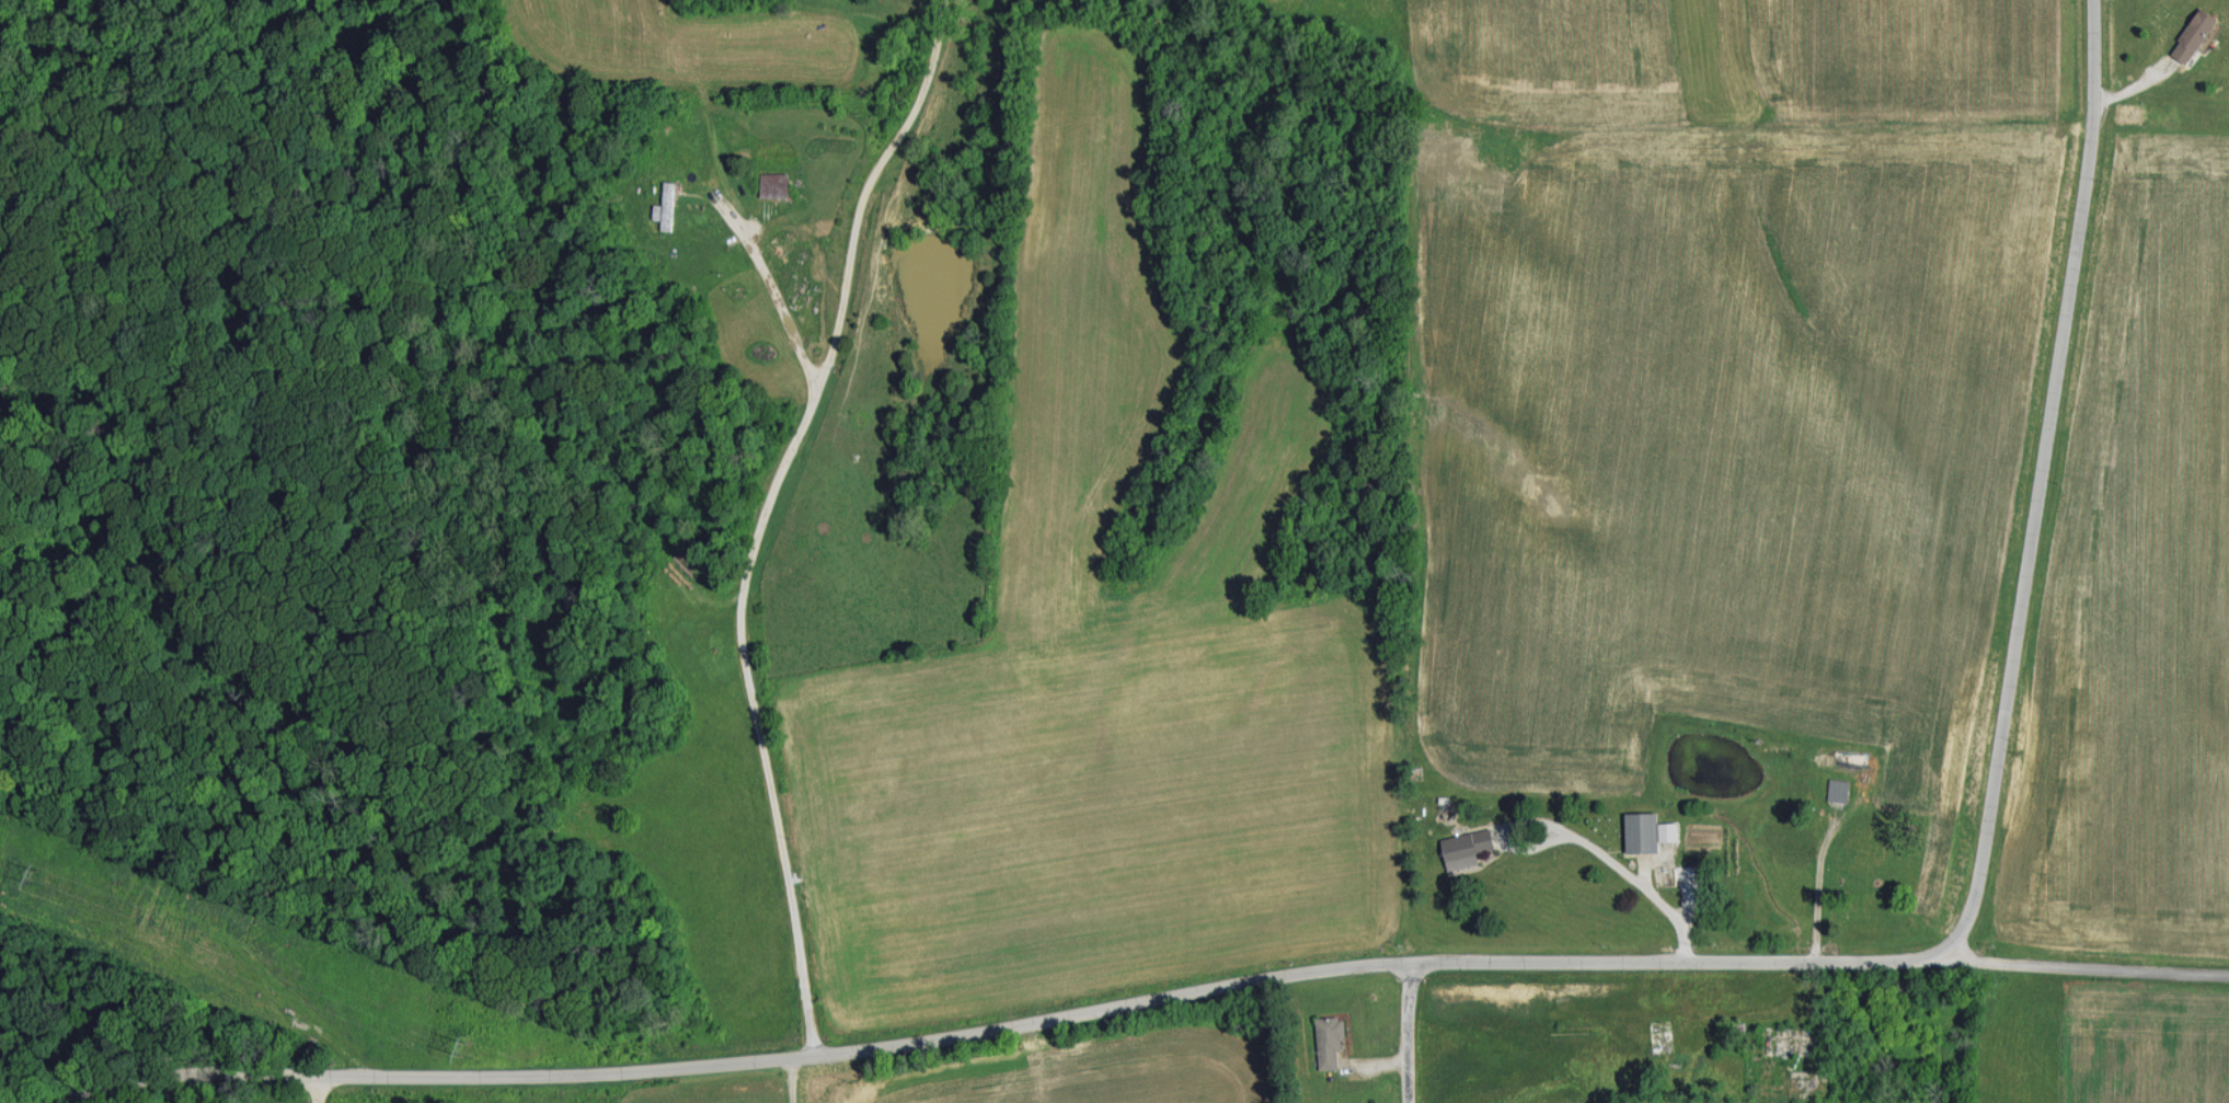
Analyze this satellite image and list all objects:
building: (2194, 34)
road: (868, 181)
building: (775, 184)
building: (667, 206)
road: (2040, 481)
road: (738, 600)
building: (1839, 790)
building: (1642, 830)
building: (1668, 830)
building: (1467, 846)
power tower: (37, 874)
road: (1639, 882)
road: (2091, 966)
road: (983, 1023)
road: (1408, 1031)
building: (1330, 1039)
power tower: (469, 1047)
road: (790, 1079)
road: (314, 1088)

